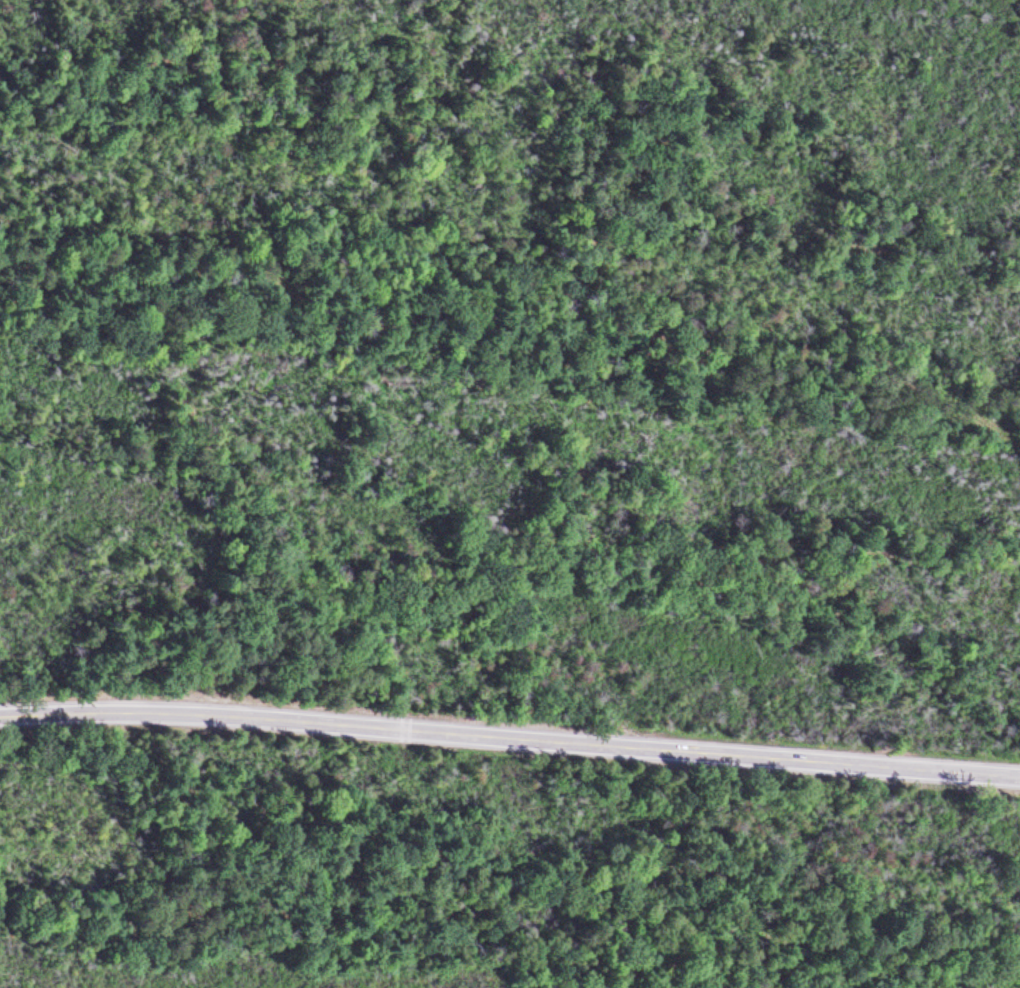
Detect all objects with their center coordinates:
road: (510, 739)

